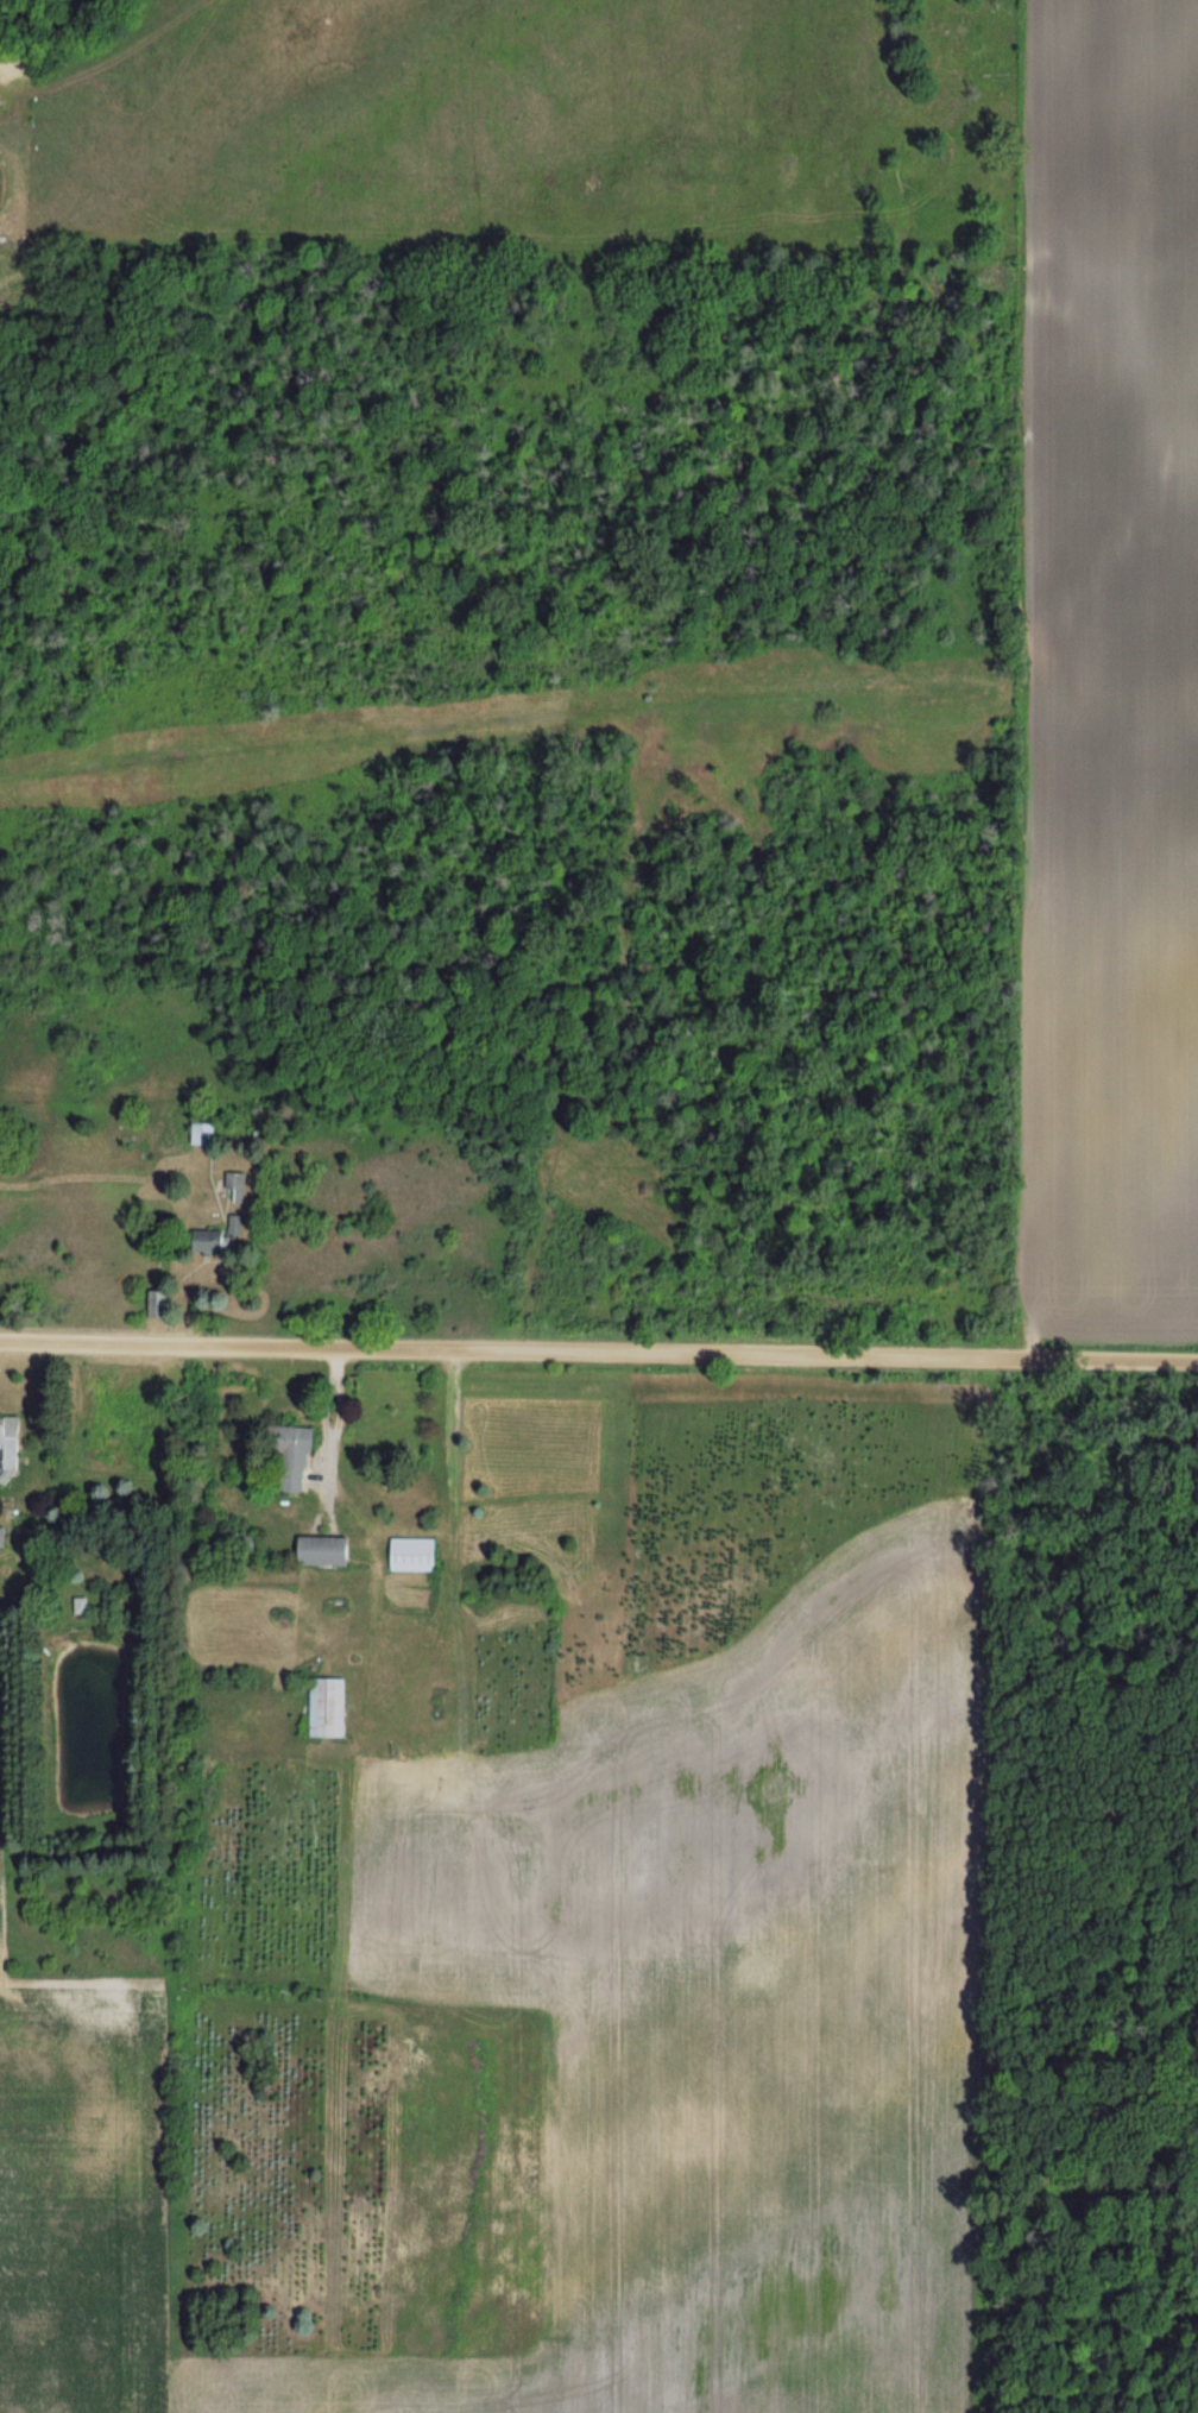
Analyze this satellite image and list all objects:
building: (208, 1133)
building: (240, 1184)
building: (227, 1237)
building: (163, 1304)
road: (599, 1350)
building: (11, 1449)
building: (292, 1456)
building: (4, 1537)
building: (328, 1550)
building: (417, 1554)
building: (330, 1707)

